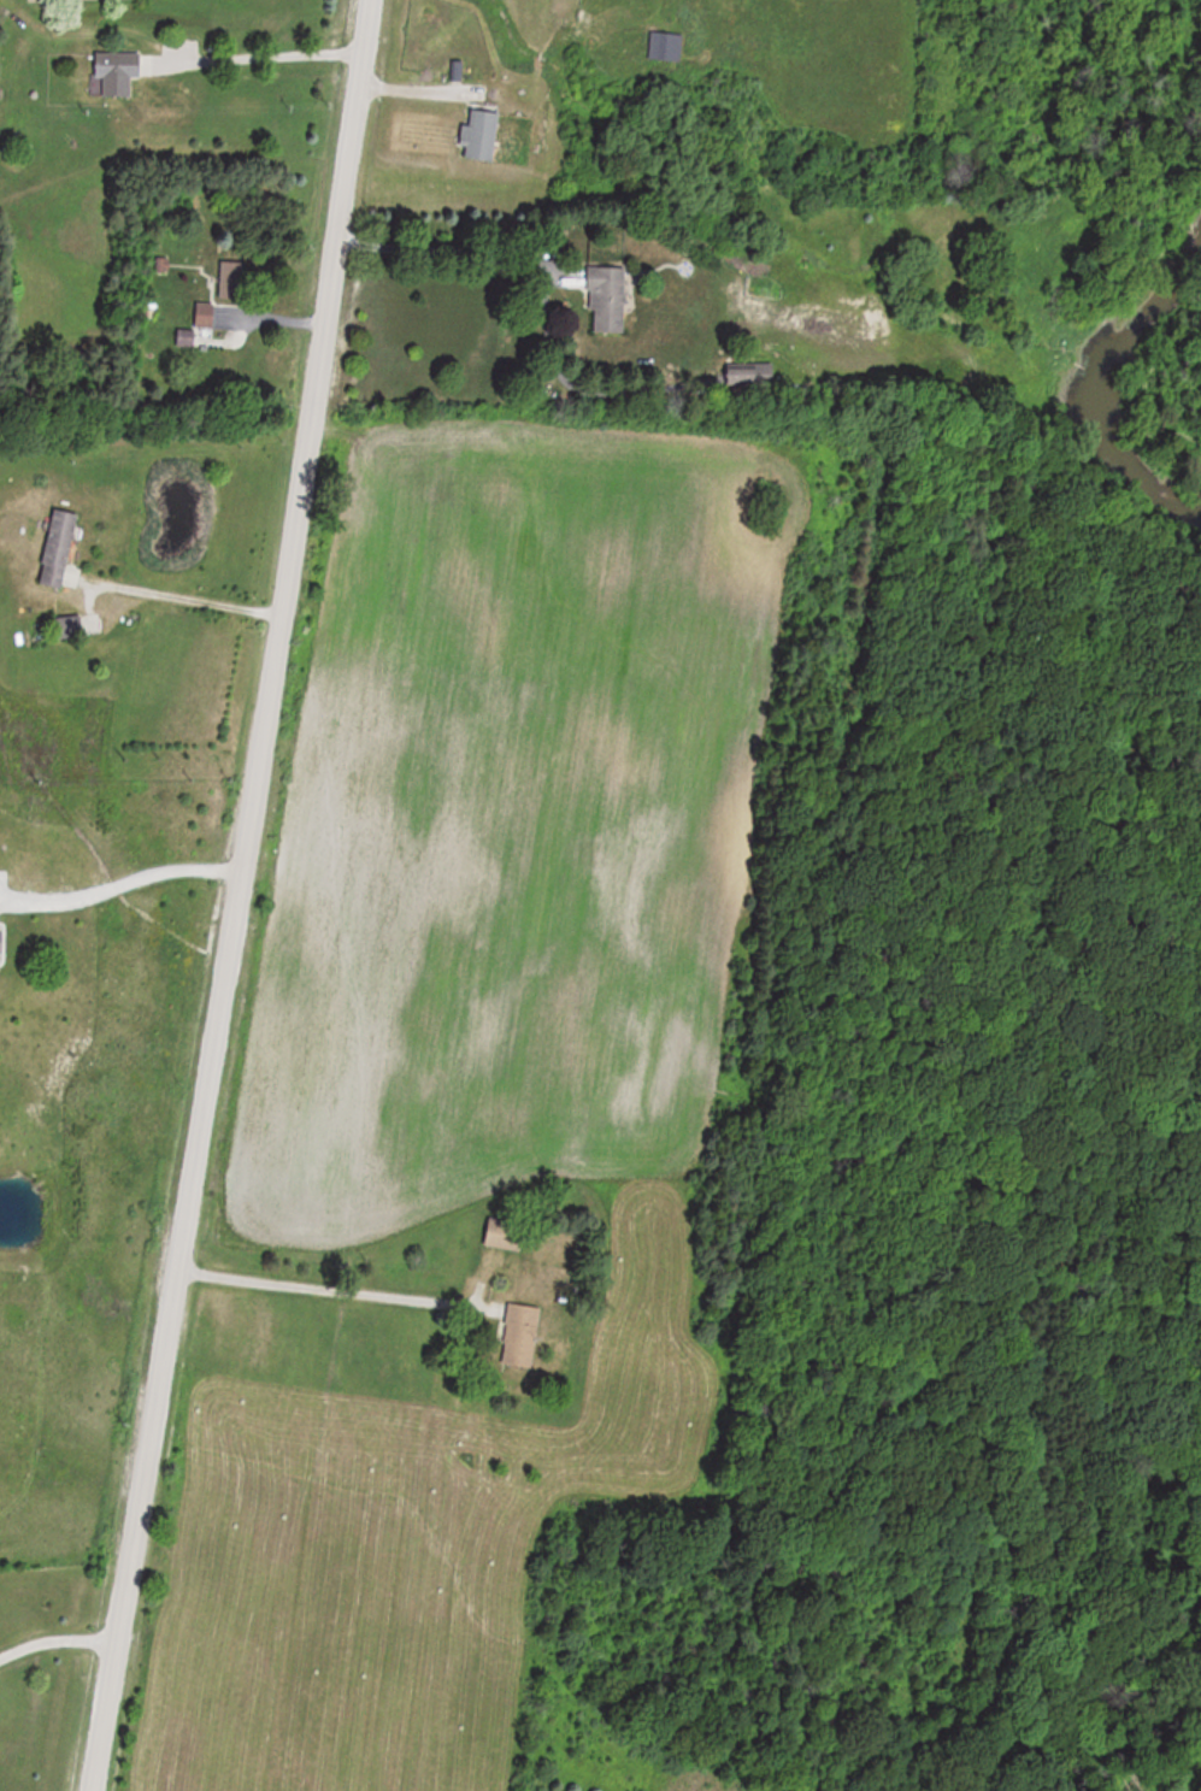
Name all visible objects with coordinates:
road: (259, 60)
building: (117, 73)
building: (482, 135)
road: (446, 252)
building: (230, 279)
building: (607, 299)
building: (205, 316)
building: (750, 375)
building: (60, 548)
road: (177, 594)
building: (76, 625)
road: (118, 889)
road: (234, 896)
building: (506, 1233)
road: (322, 1285)
building: (520, 1336)
road: (55, 1634)

